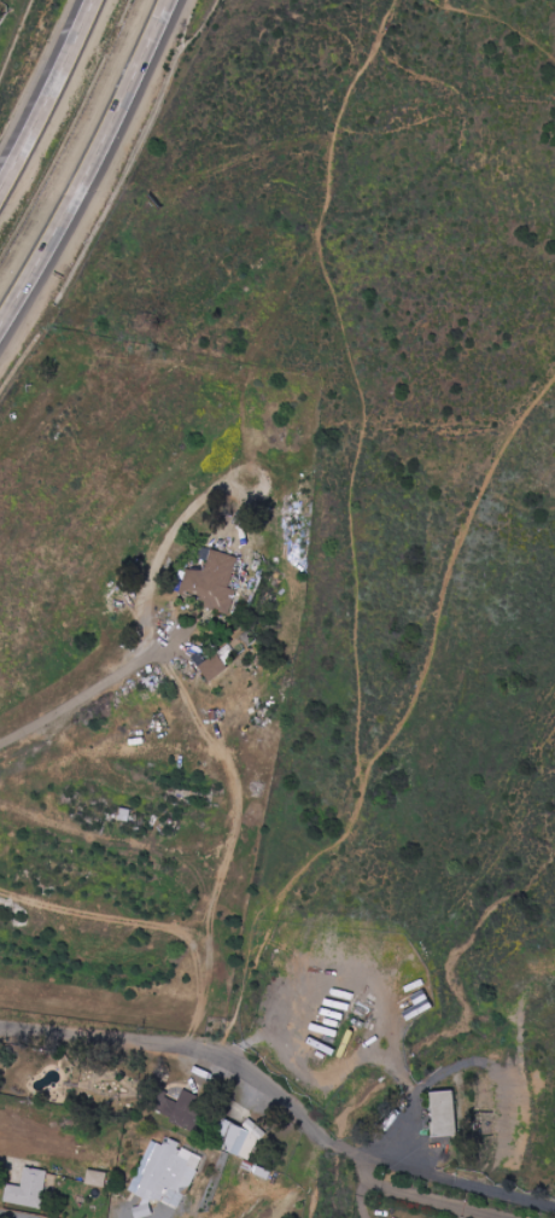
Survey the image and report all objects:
road: (49, 94)
road: (86, 162)
road: (335, 518)
building: (214, 582)
building: (214, 668)
road: (93, 689)
road: (282, 1095)
building: (461, 1112)
building: (444, 1113)
building: (243, 1138)
building: (166, 1173)
building: (98, 1177)
building: (30, 1189)
road: (428, 1196)
building: (142, 1210)
road: (11, 1216)

